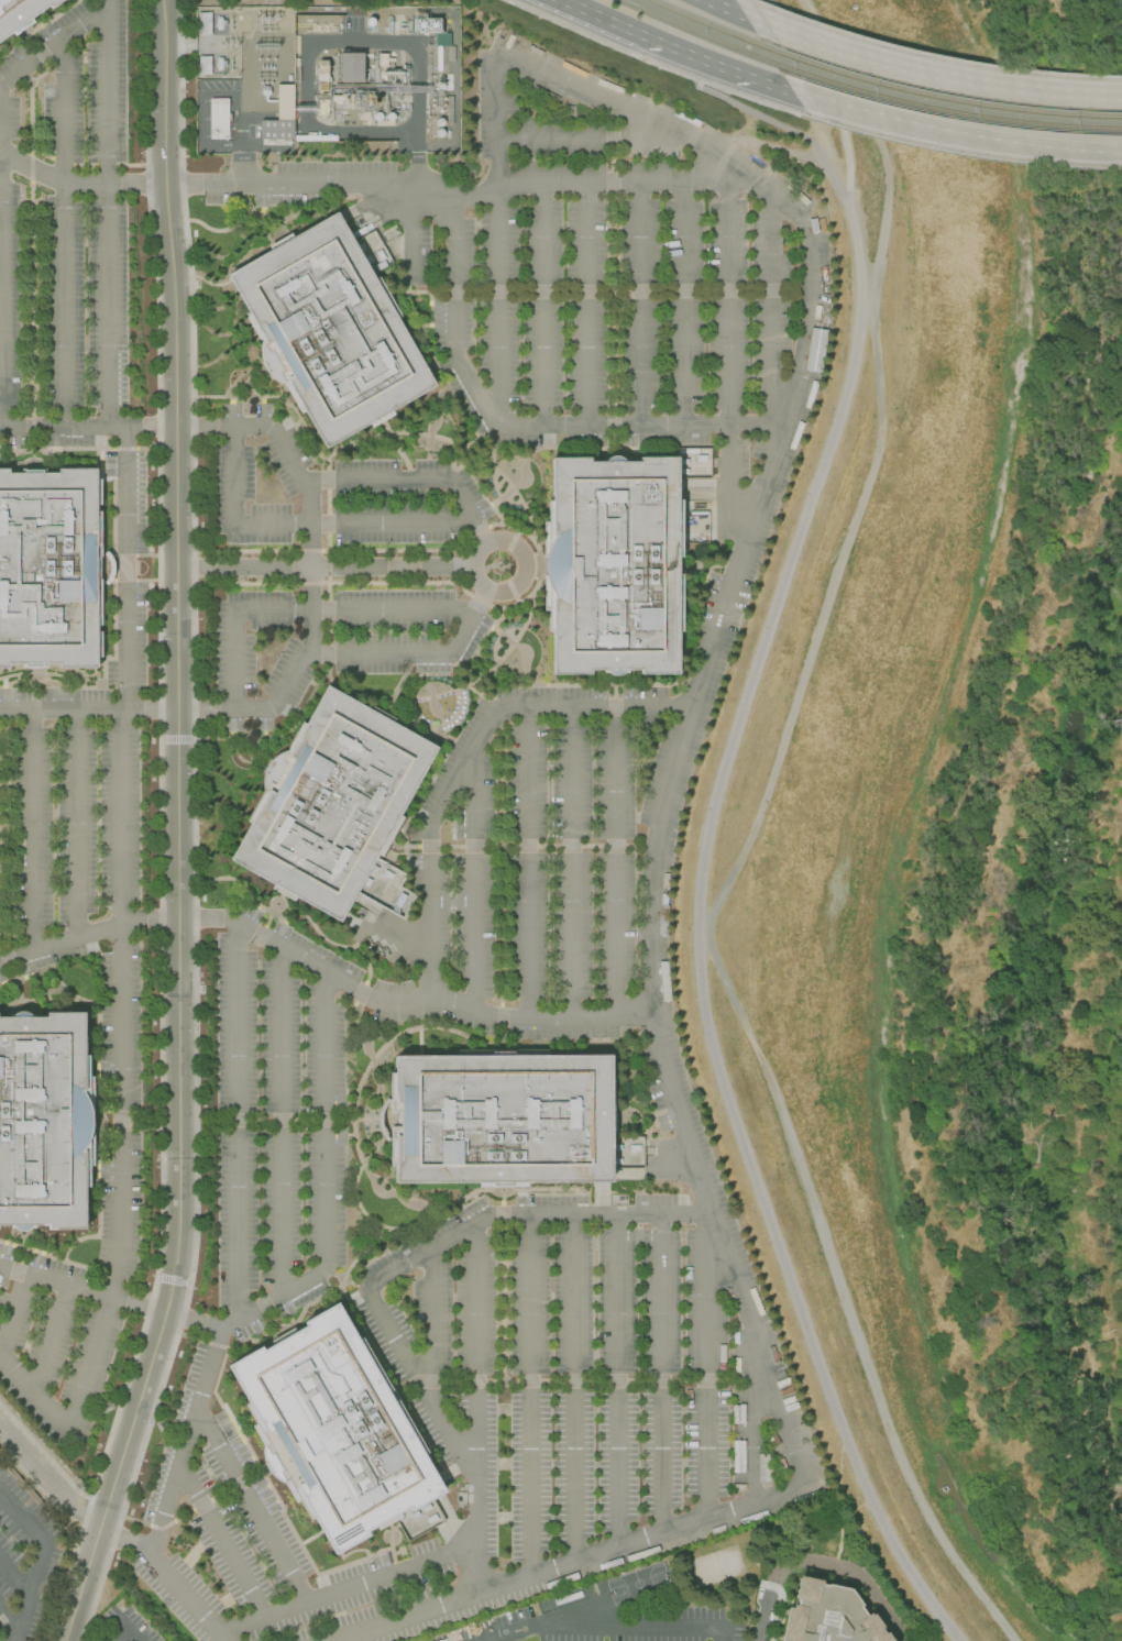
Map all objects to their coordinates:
road: (715, 4)
building: (20, 13)
road: (602, 18)
railway: (698, 20)
building: (205, 23)
river: (1105, 24)
road: (42, 25)
railway: (691, 30)
building: (441, 37)
road: (53, 47)
road: (934, 55)
building: (383, 59)
road: (713, 64)
building: (205, 65)
building: (351, 67)
road: (920, 70)
road: (831, 91)
road: (106, 92)
road: (495, 92)
railway: (931, 95)
building: (285, 100)
railway: (937, 108)
road: (61, 113)
building: (219, 118)
road: (772, 122)
building: (277, 129)
road: (950, 132)
road: (594, 140)
road: (625, 184)
road: (77, 185)
road: (289, 185)
road: (458, 199)
road: (32, 246)
road: (640, 304)
road: (683, 304)
road: (542, 305)
road: (585, 305)
road: (63, 306)
road: (106, 307)
road: (771, 328)
building: (329, 330)
building: (814, 349)
road: (727, 356)
road: (498, 415)
road: (87, 428)
road: (260, 428)
road: (113, 451)
road: (494, 470)
road: (232, 476)
road: (271, 525)
road: (389, 525)
road: (309, 544)
road: (342, 552)
parking lot: (340, 564)
building: (614, 565)
road: (525, 566)
building: (50, 568)
road: (323, 568)
road: (125, 570)
road: (112, 579)
road: (342, 584)
road: (306, 612)
road: (414, 656)
road: (701, 679)
road: (566, 686)
road: (88, 713)
road: (437, 768)
building: (332, 802)
parking lot: (69, 803)
road: (76, 826)
road: (177, 827)
road: (31, 833)
road: (747, 837)
road: (521, 846)
road: (652, 859)
road: (572, 862)
road: (616, 862)
road: (3, 863)
road: (528, 863)
road: (474, 879)
parking lot: (525, 910)
road: (701, 935)
road: (87, 936)
road: (338, 949)
road: (406, 1003)
road: (120, 1006)
river: (1004, 1037)
road: (98, 1088)
building: (501, 1119)
building: (43, 1120)
road: (323, 1121)
road: (288, 1122)
road: (280, 1123)
road: (237, 1124)
road: (602, 1216)
road: (724, 1252)
road: (57, 1260)
road: (344, 1281)
road: (81, 1291)
road: (273, 1300)
road: (11, 1315)
road: (193, 1321)
road: (383, 1321)
road: (274, 1322)
road: (432, 1328)
road: (51, 1341)
road: (89, 1365)
road: (706, 1367)
road: (661, 1375)
road: (616, 1381)
road: (569, 1384)
road: (573, 1389)
road: (34, 1394)
road: (529, 1397)
road: (475, 1409)
building: (738, 1413)
road: (751, 1417)
building: (337, 1428)
building: (776, 1436)
road: (186, 1443)
building: (738, 1456)
road: (36, 1466)
building: (765, 1468)
building: (738, 1486)
building: (794, 1499)
road: (251, 1507)
road: (197, 1508)
road: (88, 1510)
road: (26, 1521)
road: (117, 1539)
road: (221, 1542)
road: (822, 1561)
road: (573, 1563)
road: (14, 1578)
road: (345, 1590)
road: (179, 1593)
road: (30, 1597)
road: (564, 1614)
parking lot: (617, 1615)
building: (824, 1615)
road: (10, 1617)
parking lot: (125, 1626)
road: (629, 1627)
building: (496, 1629)
road: (117, 1633)
road: (129, 1634)
road: (724, 1634)

